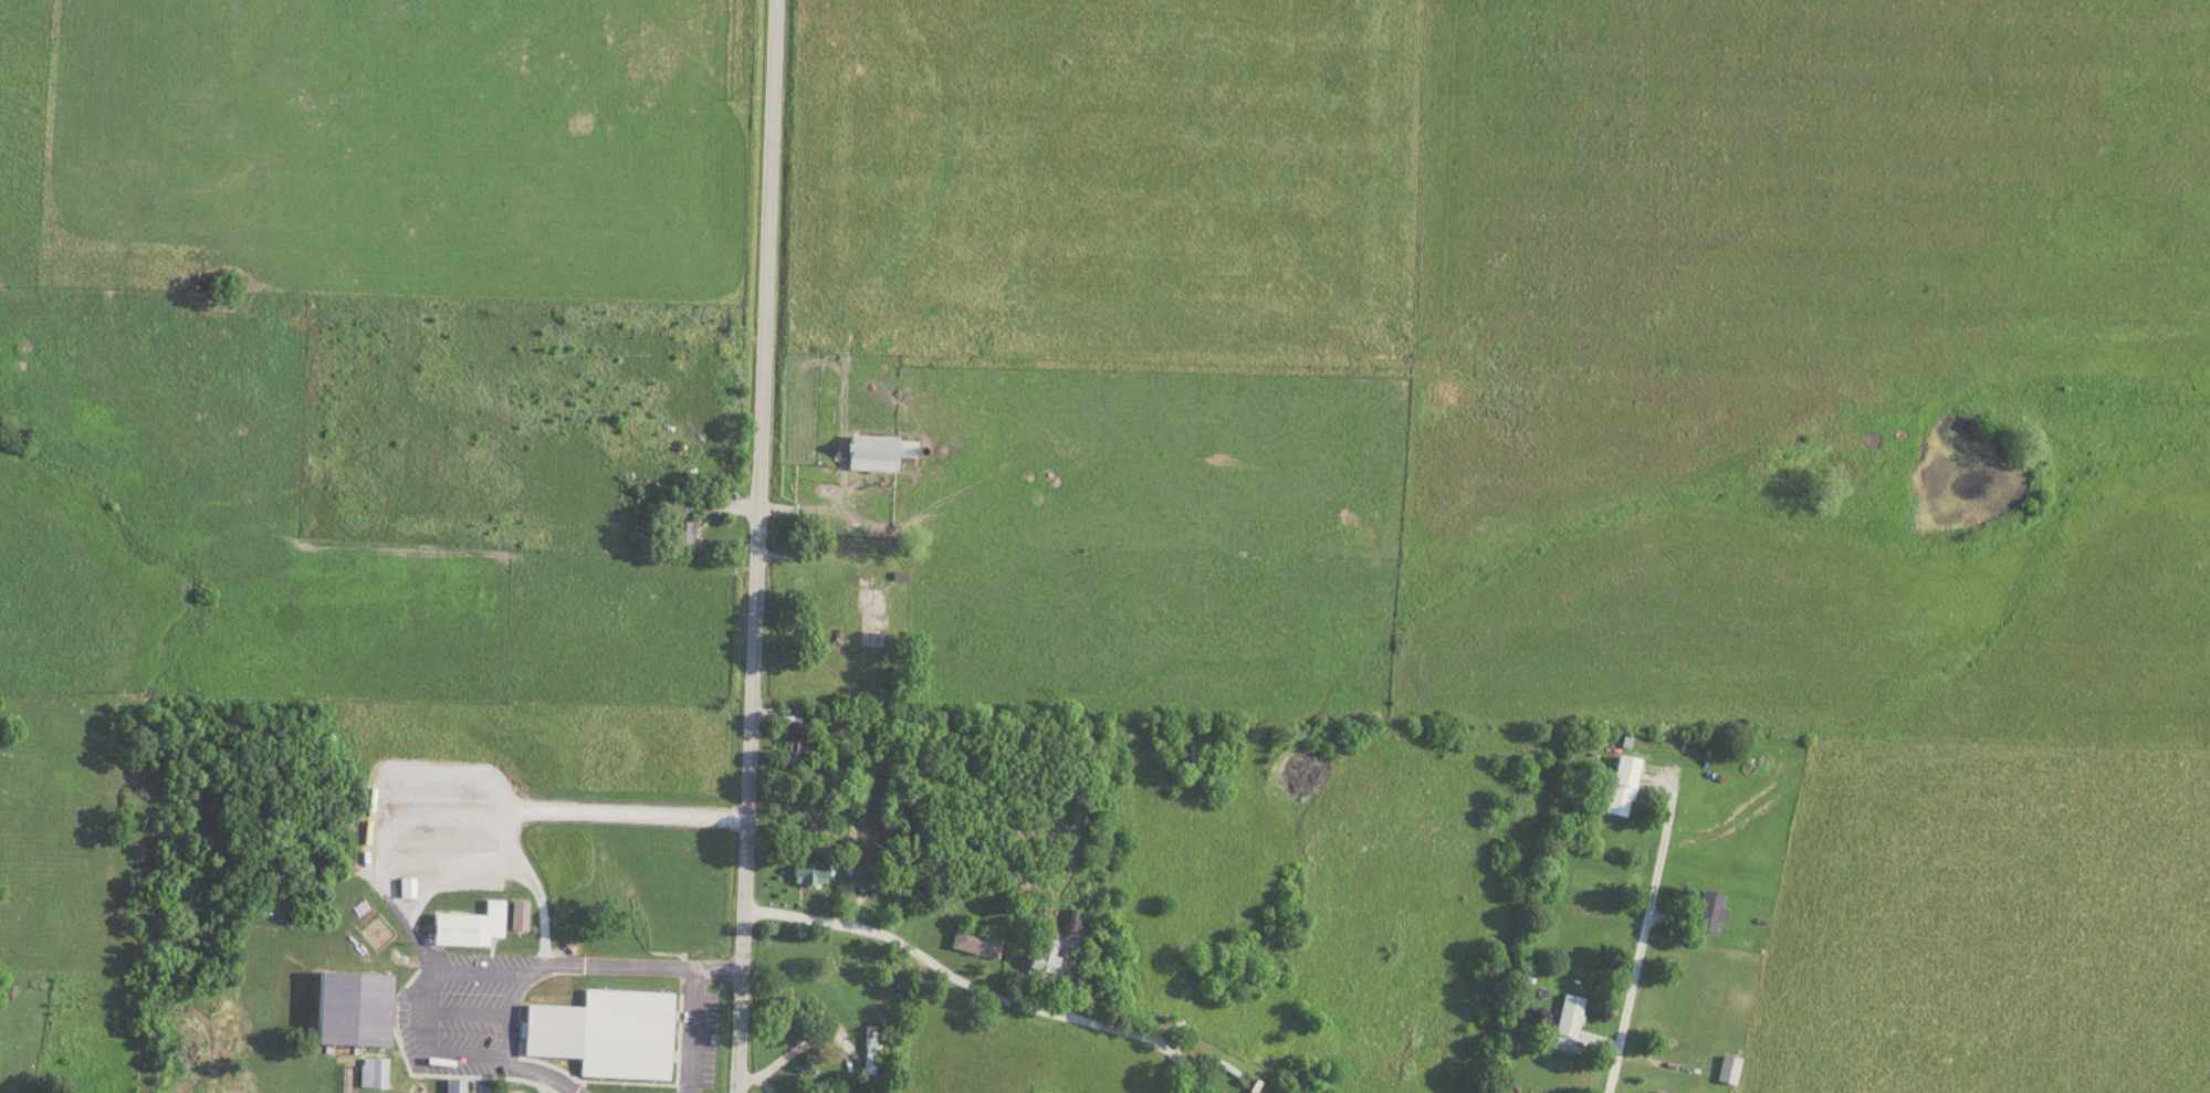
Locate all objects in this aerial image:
building: (879, 452)
building: (683, 523)
road: (755, 546)
road: (828, 548)
building: (863, 590)
building: (827, 716)
building: (799, 752)
building: (1623, 785)
road: (552, 809)
building: (810, 872)
building: (407, 886)
building: (1710, 911)
building: (520, 914)
building: (470, 925)
road: (1644, 934)
building: (977, 940)
building: (1046, 959)
road: (549, 964)
road: (975, 990)
building: (356, 1007)
building: (1570, 1016)
building: (627, 1033)
building: (1728, 1069)
building: (374, 1072)
building: (455, 1085)
building: (1664, 1091)

